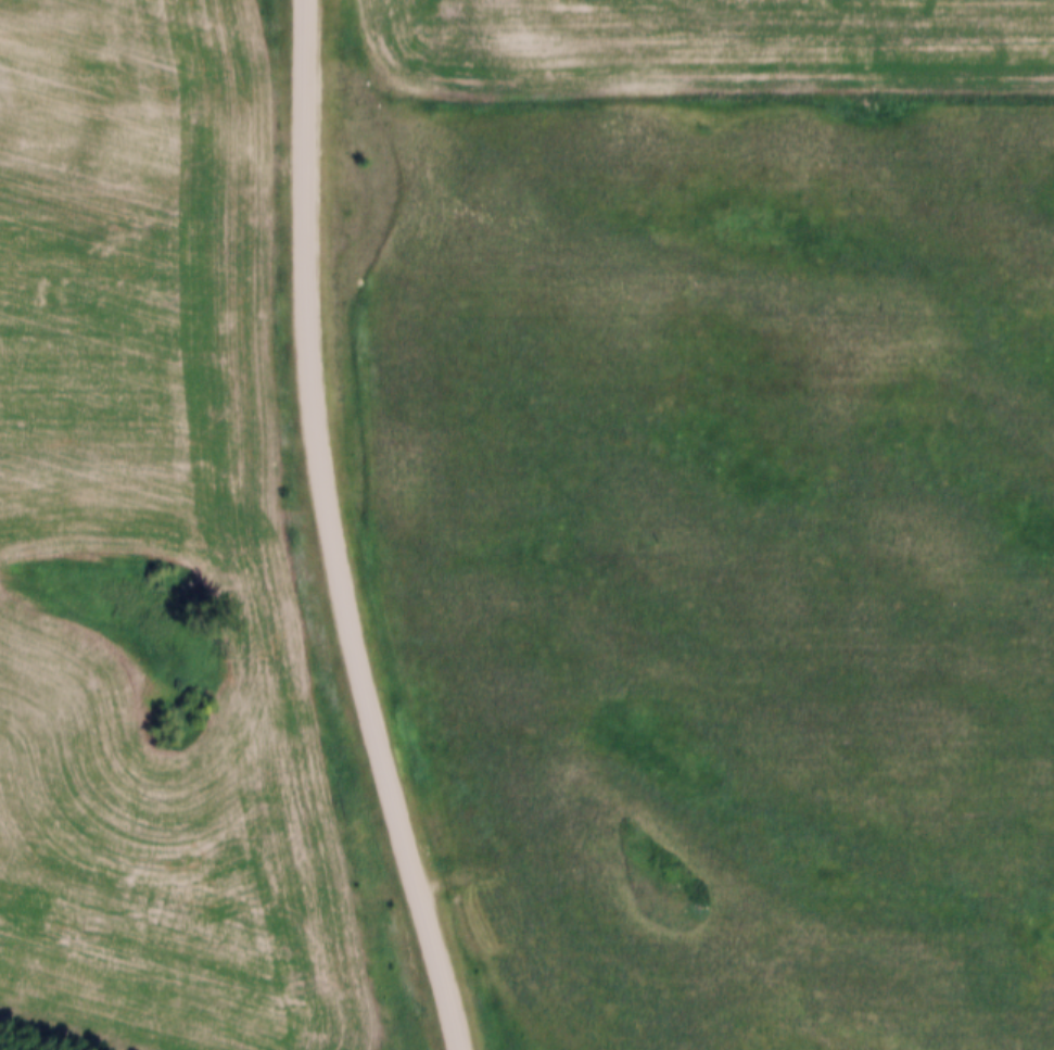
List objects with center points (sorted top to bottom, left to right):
road: (332, 531)

